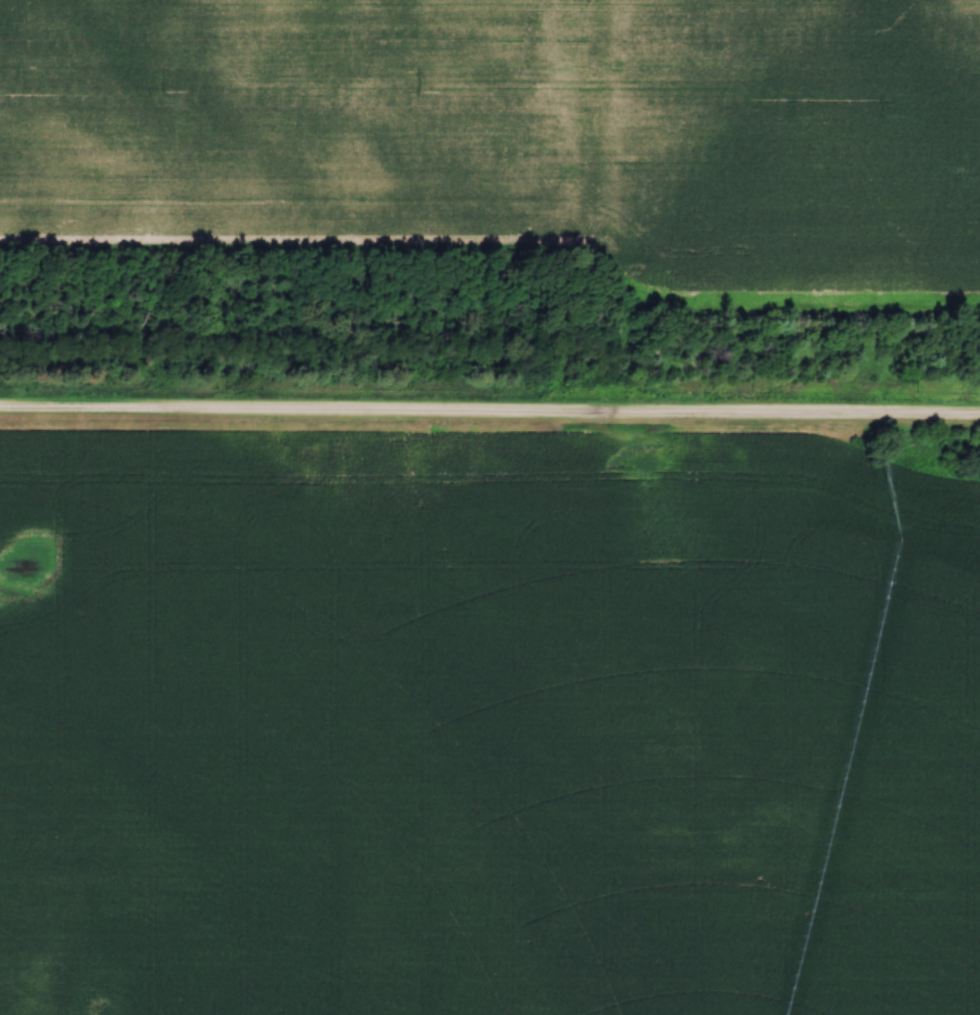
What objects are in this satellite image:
road: (490, 417)

